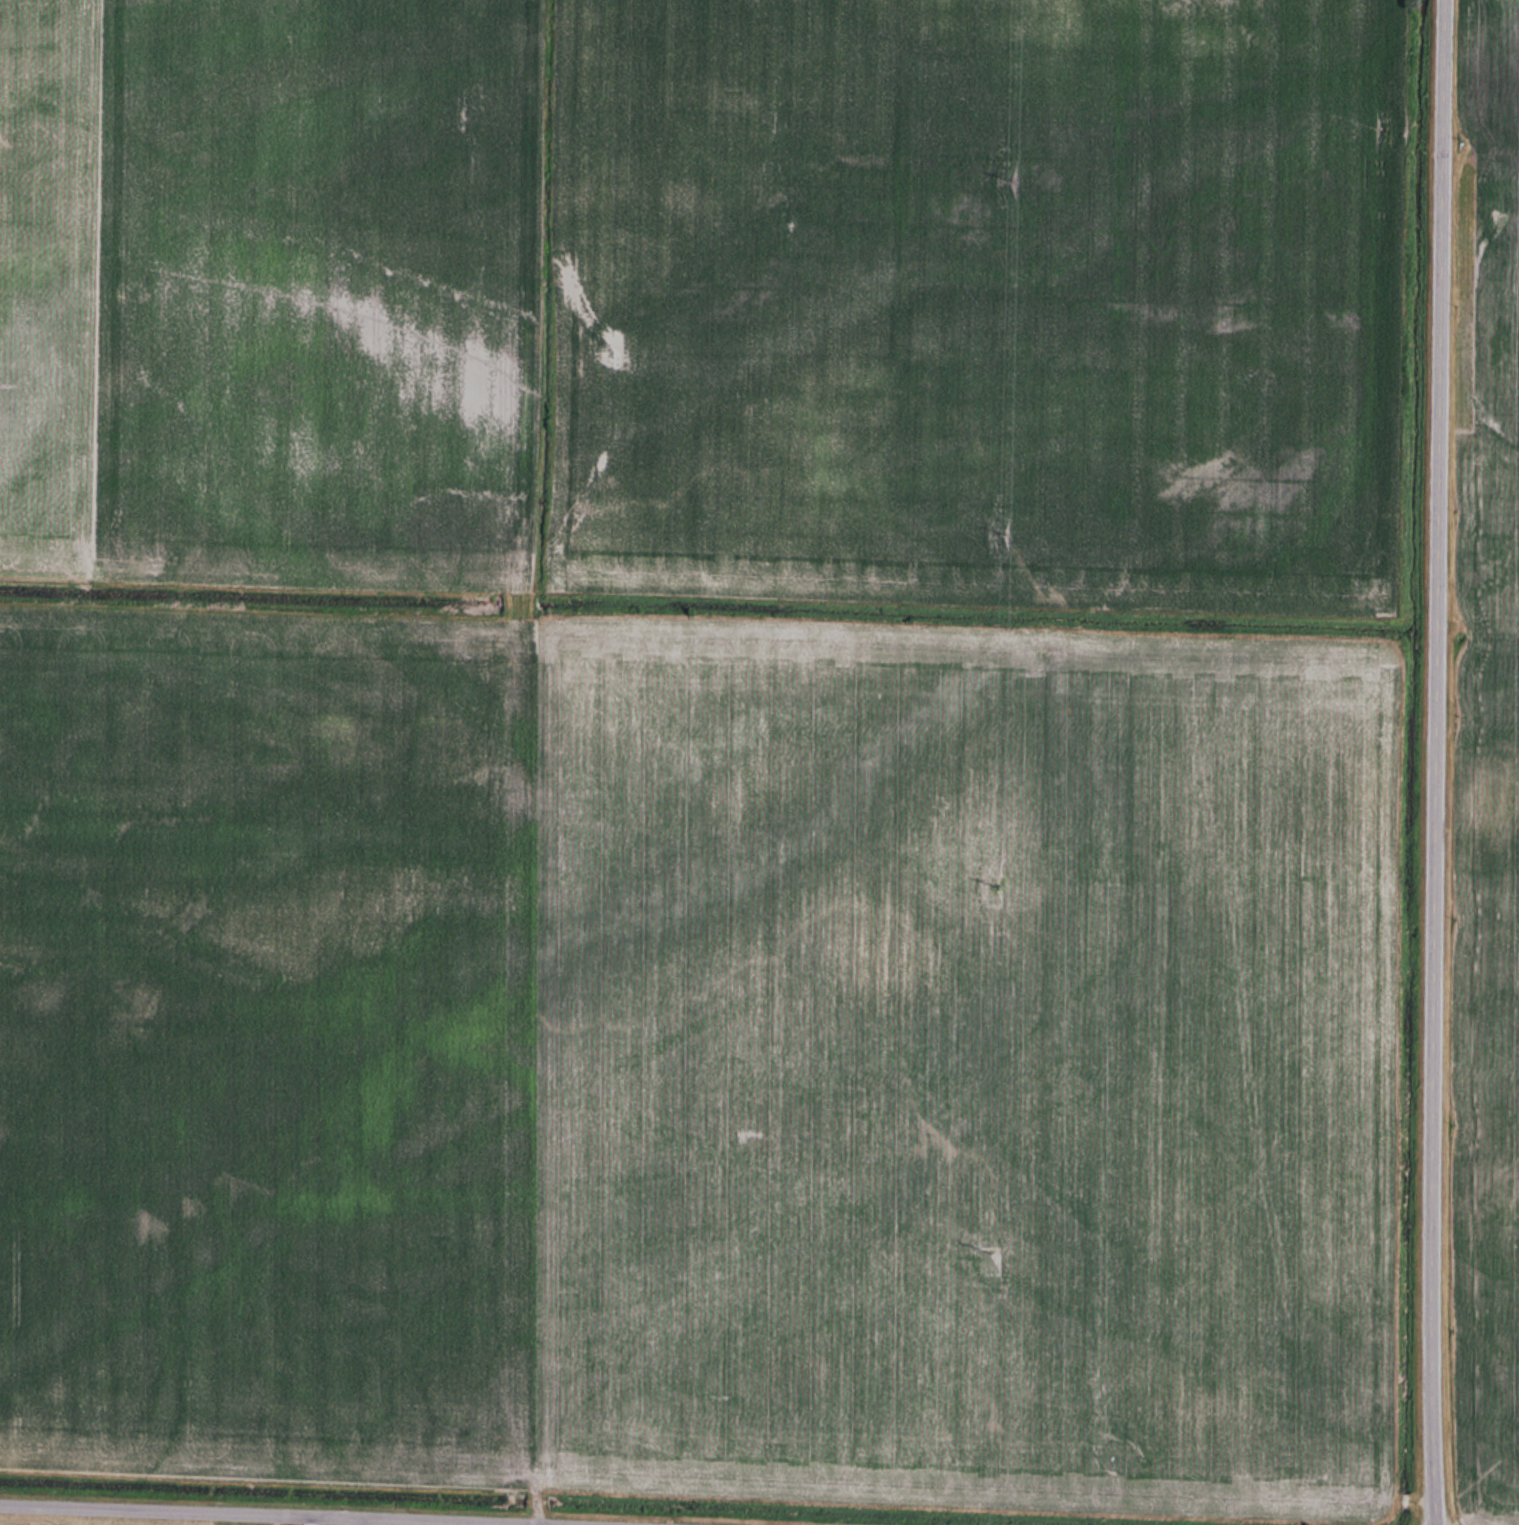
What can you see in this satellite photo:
road: (1441, 762)
road: (262, 1513)

